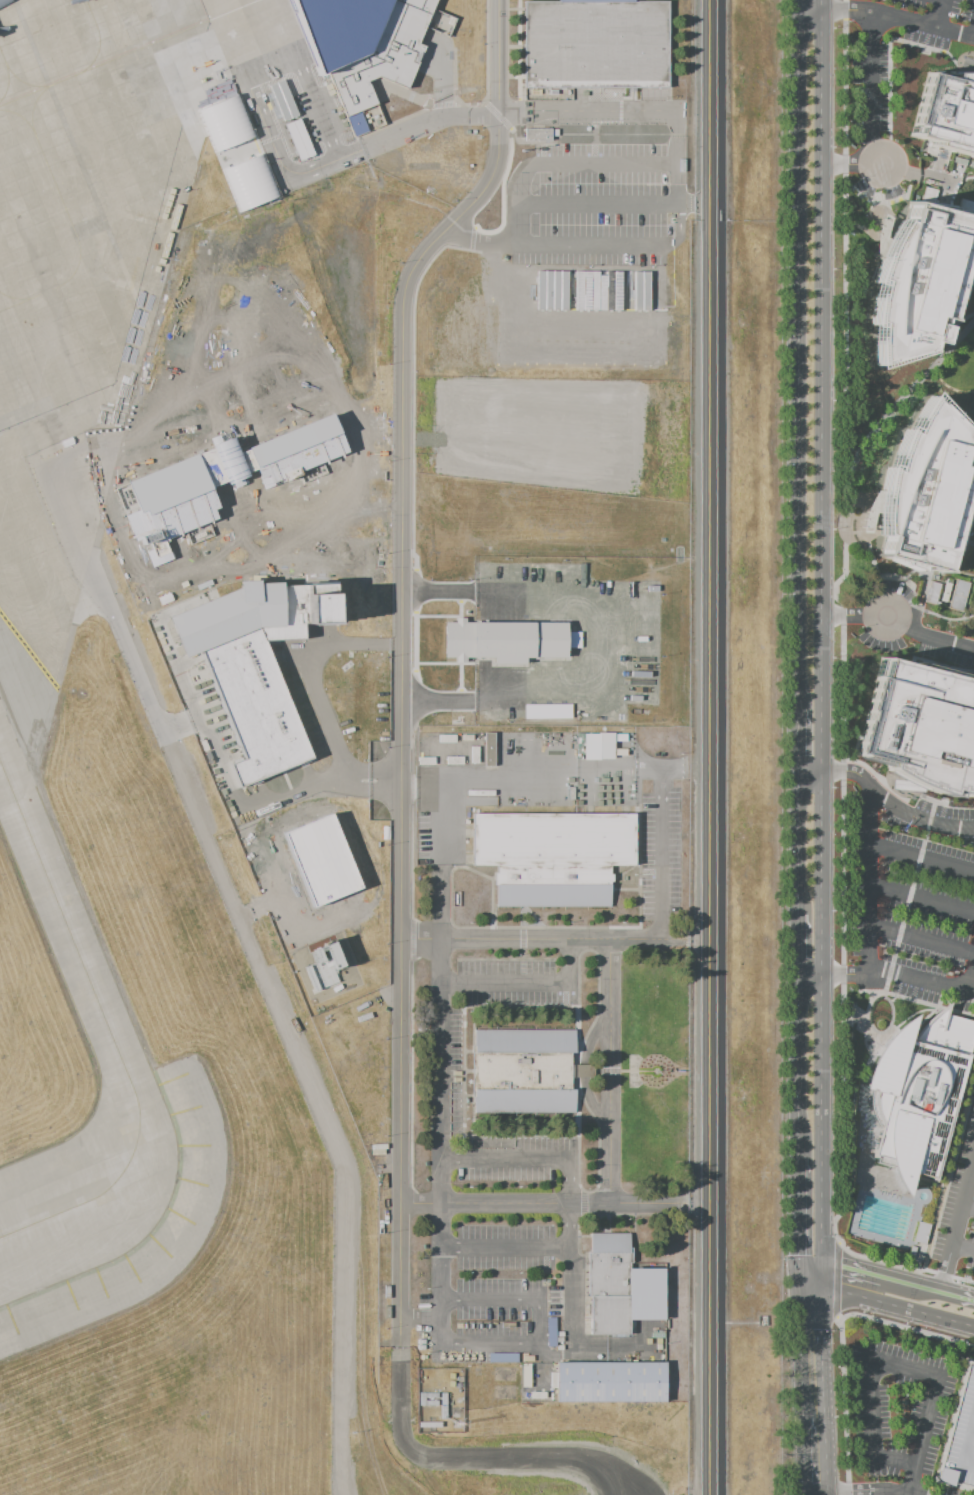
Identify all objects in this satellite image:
road: (797, 2)
road: (826, 3)
road: (811, 5)
road: (939, 13)
road: (900, 18)
building: (596, 44)
building: (361, 47)
road: (518, 50)
road: (486, 52)
parking lot: (892, 56)
road: (870, 90)
building: (282, 100)
road: (584, 109)
building: (945, 111)
road: (497, 115)
road: (426, 123)
building: (538, 134)
building: (298, 139)
road: (313, 147)
building: (237, 152)
road: (608, 163)
road: (891, 169)
road: (954, 185)
building: (928, 195)
road: (502, 197)
road: (523, 200)
road: (883, 201)
parking lot: (599, 204)
road: (601, 204)
building: (966, 206)
road: (869, 215)
road: (892, 215)
road: (854, 226)
road: (471, 238)
road: (483, 244)
road: (638, 244)
road: (474, 251)
airport apron: (88, 275)
building: (916, 283)
road: (960, 321)
road: (796, 387)
road: (825, 388)
road: (903, 396)
road: (412, 441)
road: (236, 460)
road: (971, 465)
road: (300, 471)
parking lot: (303, 471)
building: (924, 486)
road: (231, 488)
road: (280, 529)
road: (867, 534)
road: (871, 556)
road: (289, 560)
road: (900, 578)
road: (919, 588)
building: (945, 592)
building: (932, 593)
building: (604, 595)
building: (957, 595)
road: (843, 617)
road: (943, 617)
road: (841, 622)
road: (916, 634)
building: (503, 640)
road: (576, 641)
parking lot: (908, 643)
road: (400, 656)
road: (938, 662)
road: (973, 667)
building: (240, 672)
road: (325, 719)
building: (920, 727)
building: (467, 737)
building: (446, 738)
building: (459, 738)
building: (617, 738)
airport: (344, 746)
road: (711, 747)
building: (597, 748)
building: (489, 749)
building: (474, 755)
building: (455, 760)
building: (425, 761)
building: (517, 762)
road: (685, 767)
road: (810, 769)
road: (847, 771)
building: (413, 775)
road: (915, 816)
road: (796, 841)
road: (659, 853)
parking lot: (660, 854)
building: (552, 856)
road: (921, 857)
building: (319, 860)
road: (824, 873)
road: (868, 875)
parking lot: (907, 891)
road: (921, 897)
road: (439, 904)
road: (902, 920)
airport taxiway: (67, 921)
road: (555, 939)
road: (920, 939)
road: (797, 944)
building: (322, 965)
road: (846, 974)
road: (811, 976)
road: (916, 977)
road: (970, 977)
parking lot: (508, 984)
road: (526, 984)
road: (892, 998)
road: (923, 1002)
road: (867, 1007)
road: (863, 1023)
road: (797, 1066)
parking lot: (454, 1068)
building: (522, 1070)
road: (610, 1071)
building: (919, 1095)
road: (824, 1121)
road: (440, 1136)
parking lot: (517, 1158)
road: (973, 1167)
road: (948, 1170)
road: (441, 1180)
airport taxiway: (103, 1190)
road: (532, 1203)
parking lot: (959, 1204)
road: (968, 1209)
road: (798, 1212)
road: (957, 1227)
building: (921, 1233)
road: (837, 1242)
road: (506, 1247)
road: (963, 1248)
road: (811, 1266)
road: (903, 1266)
road: (852, 1270)
road: (571, 1274)
road: (836, 1278)
road: (441, 1280)
road: (823, 1280)
road: (800, 1281)
parking lot: (504, 1282)
building: (609, 1284)
road: (911, 1285)
road: (812, 1295)
road: (957, 1297)
road: (512, 1299)
road: (898, 1308)
road: (801, 1314)
road: (836, 1314)
road: (838, 1318)
road: (907, 1326)
building: (552, 1327)
road: (823, 1330)
road: (492, 1345)
building: (552, 1348)
road: (874, 1367)
building: (427, 1374)
building: (527, 1374)
building: (421, 1375)
road: (802, 1376)
building: (552, 1380)
building: (611, 1382)
building: (450, 1383)
building: (431, 1395)
building: (538, 1395)
building: (421, 1399)
building: (443, 1399)
building: (458, 1401)
building: (431, 1403)
road: (843, 1405)
building: (443, 1413)
parking lot: (897, 1416)
road: (972, 1424)
building: (430, 1425)
road: (827, 1430)
building: (959, 1438)
parking lot: (959, 1438)
road: (964, 1442)
road: (805, 1457)
road: (466, 1459)
road: (853, 1491)
road: (897, 1491)
road: (877, 1493)
road: (826, 1494)

